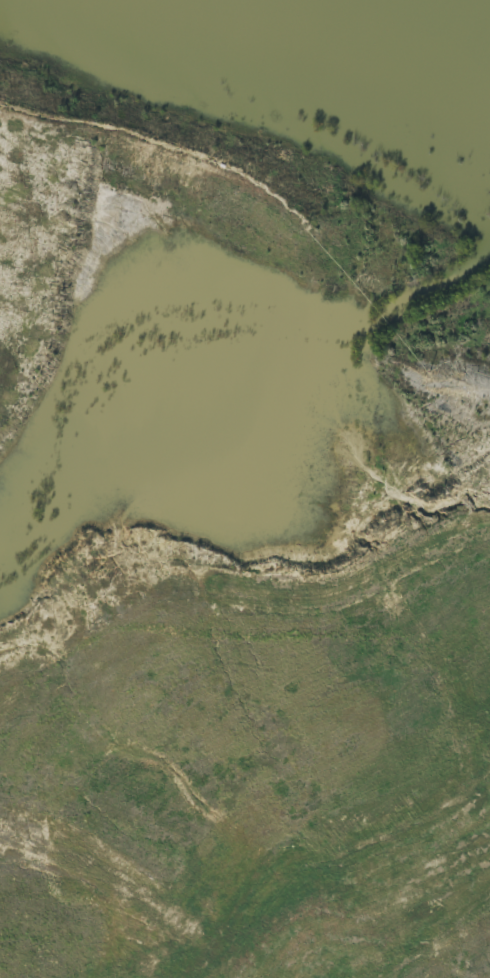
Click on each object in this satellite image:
quarry: (245, 489)

